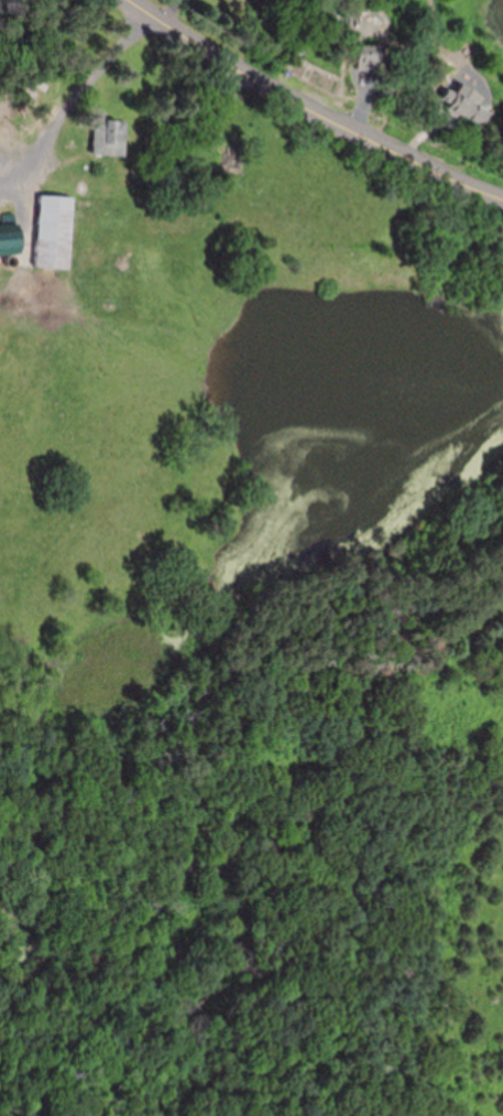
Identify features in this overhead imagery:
building: (369, 61)
road: (379, 73)
building: (464, 105)
road: (315, 111)
building: (110, 138)
building: (55, 231)
building: (10, 235)

